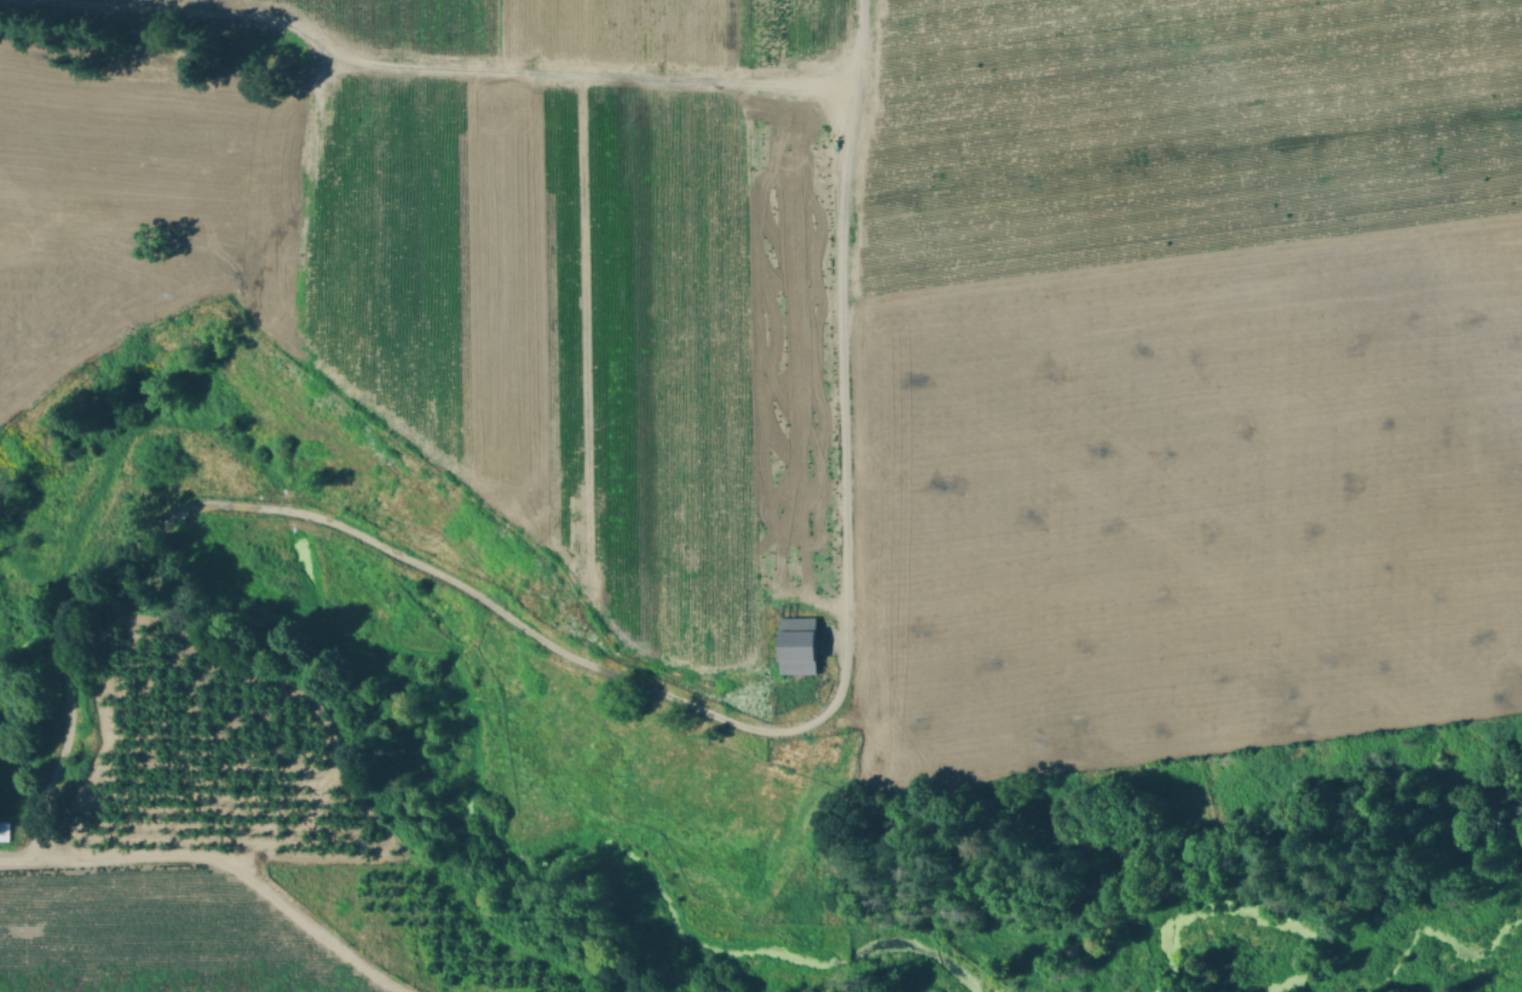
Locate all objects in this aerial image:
building: (1493, 16)
building: (1278, 29)
road: (448, 69)
building: (977, 72)
building: (1470, 145)
crop: (691, 259)
building: (802, 646)
road: (646, 688)
building: (5, 832)

